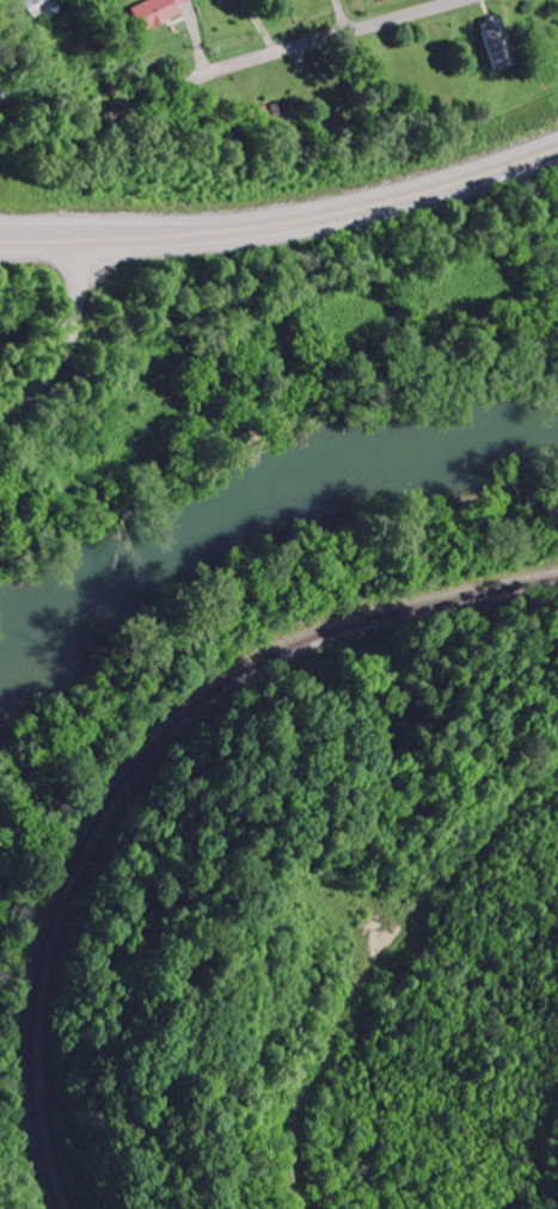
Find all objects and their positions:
building: (43, 8)
building: (154, 12)
road: (349, 13)
road: (257, 25)
road: (314, 37)
building: (498, 44)
road: (284, 220)
road: (60, 335)
river: (241, 511)
railway: (139, 767)
road: (373, 961)

